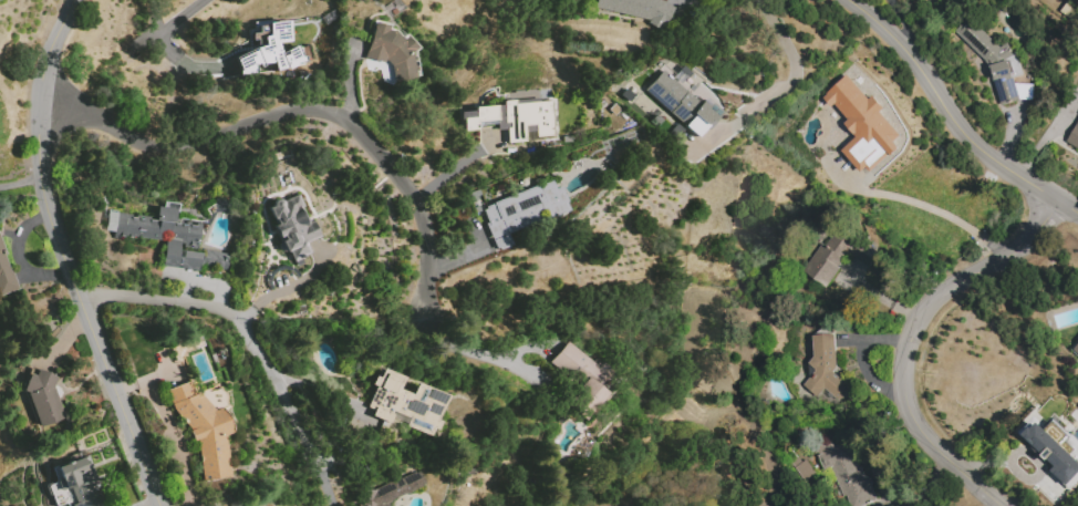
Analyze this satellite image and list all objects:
building: (362, 0)
building: (629, 7)
building: (392, 8)
building: (663, 8)
road: (901, 24)
road: (164, 39)
building: (269, 49)
building: (391, 52)
building: (298, 53)
building: (994, 61)
building: (381, 68)
road: (779, 91)
building: (1026, 92)
building: (682, 104)
road: (299, 112)
road: (952, 117)
building: (512, 118)
building: (863, 126)
building: (1074, 136)
building: (286, 178)
road: (20, 180)
road: (926, 207)
building: (521, 210)
building: (292, 226)
building: (162, 235)
building: (839, 255)
road: (62, 257)
road: (20, 259)
building: (217, 259)
building: (6, 275)
road: (286, 288)
road: (235, 317)
road: (910, 340)
building: (1076, 349)
road: (468, 350)
building: (826, 368)
building: (581, 379)
building: (43, 397)
building: (407, 402)
building: (204, 428)
road: (172, 431)
building: (1053, 453)
road: (981, 463)
building: (844, 473)
road: (324, 481)
building: (79, 483)
road: (880, 485)
building: (388, 493)

